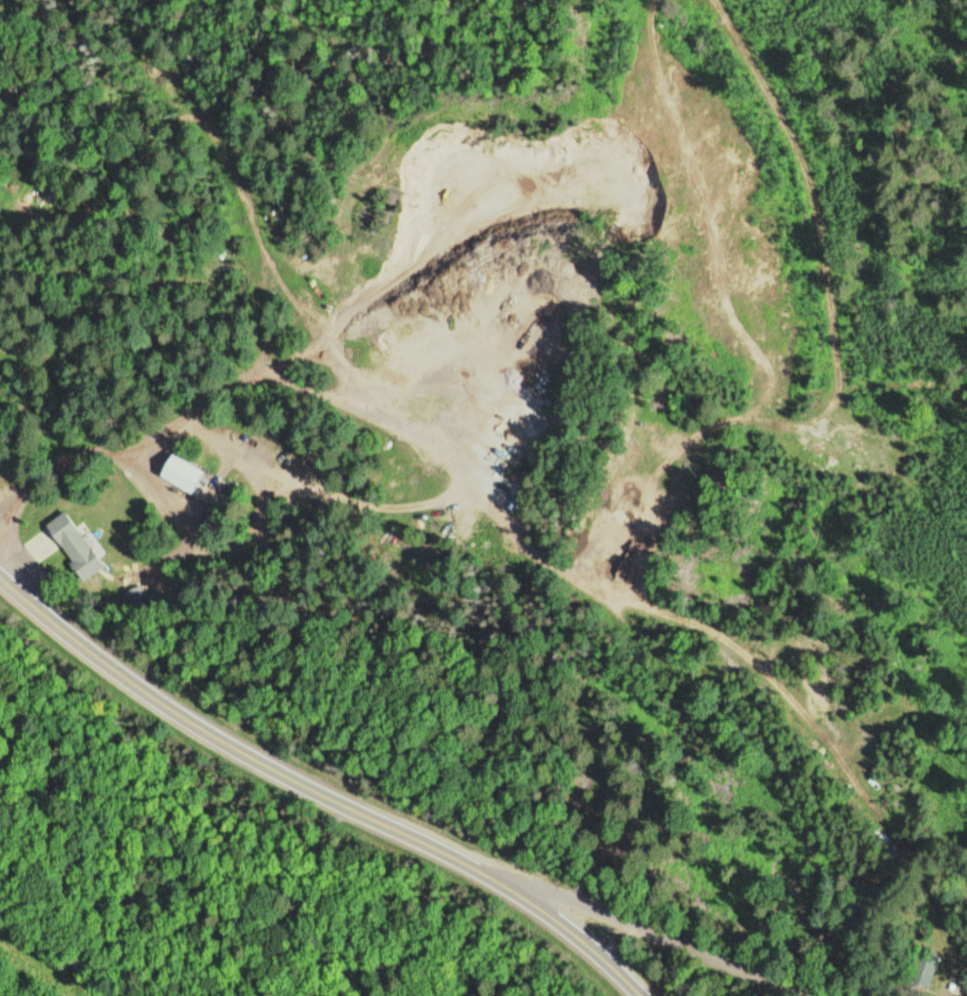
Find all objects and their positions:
building: (78, 545)
road: (53, 698)
road: (322, 781)
road: (692, 942)

